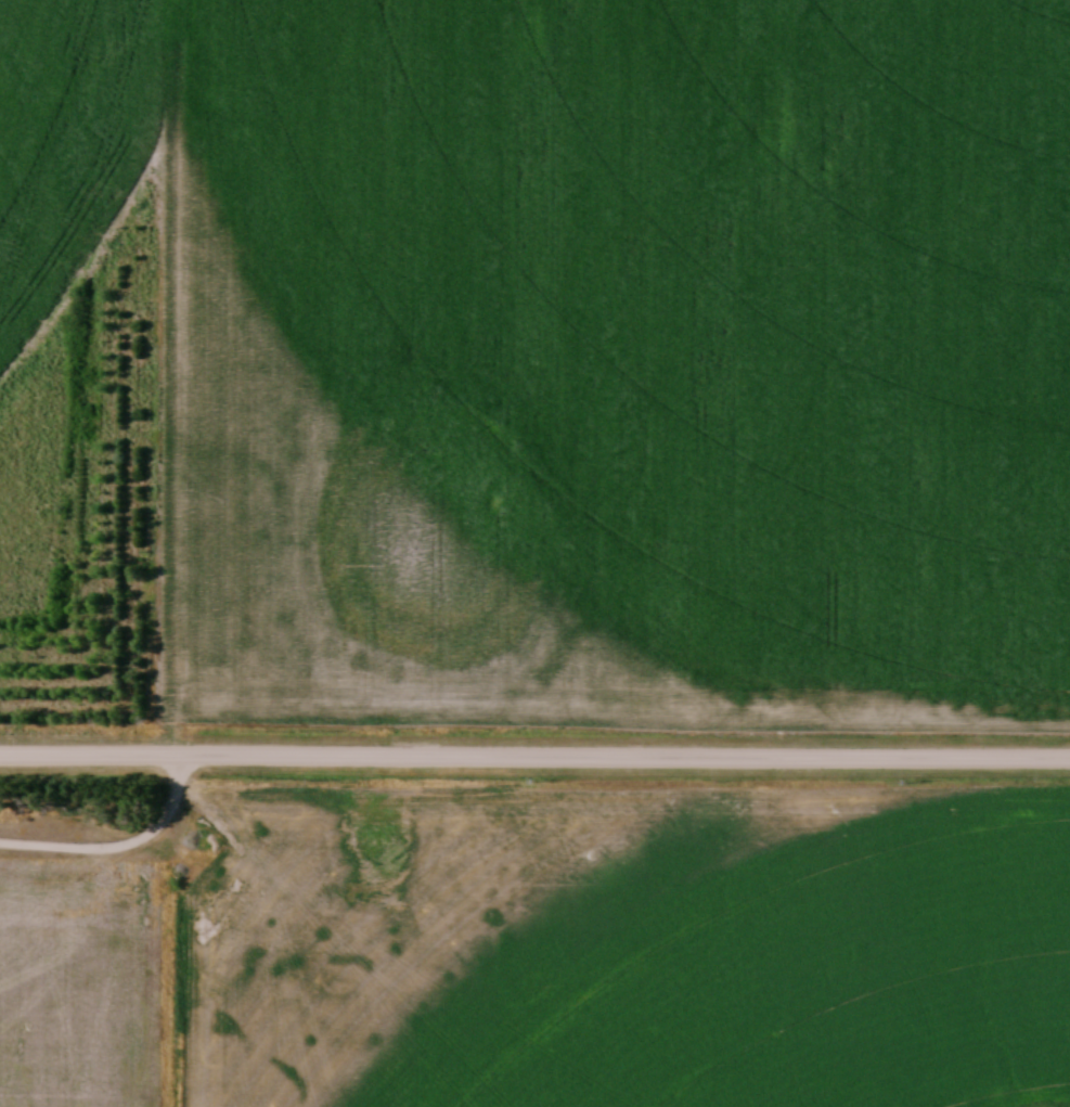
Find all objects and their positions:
road: (534, 756)
road: (121, 845)

